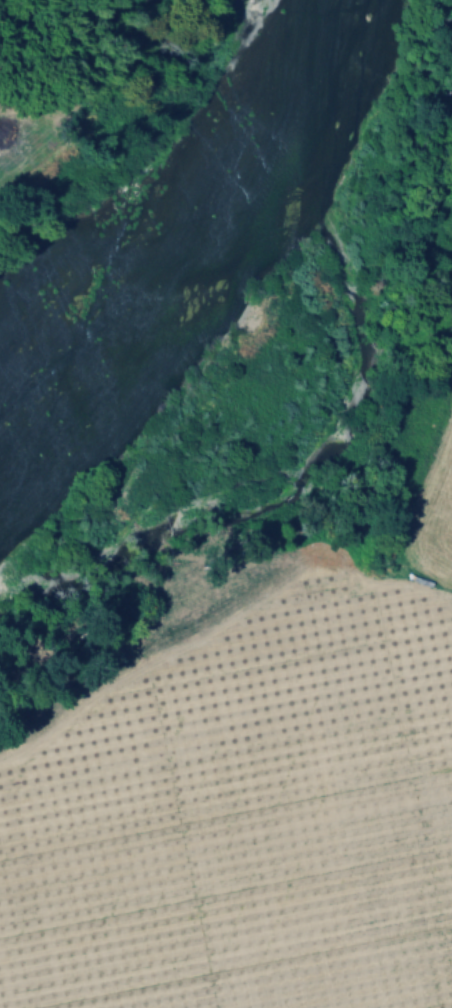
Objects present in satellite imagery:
river: (206, 247)

